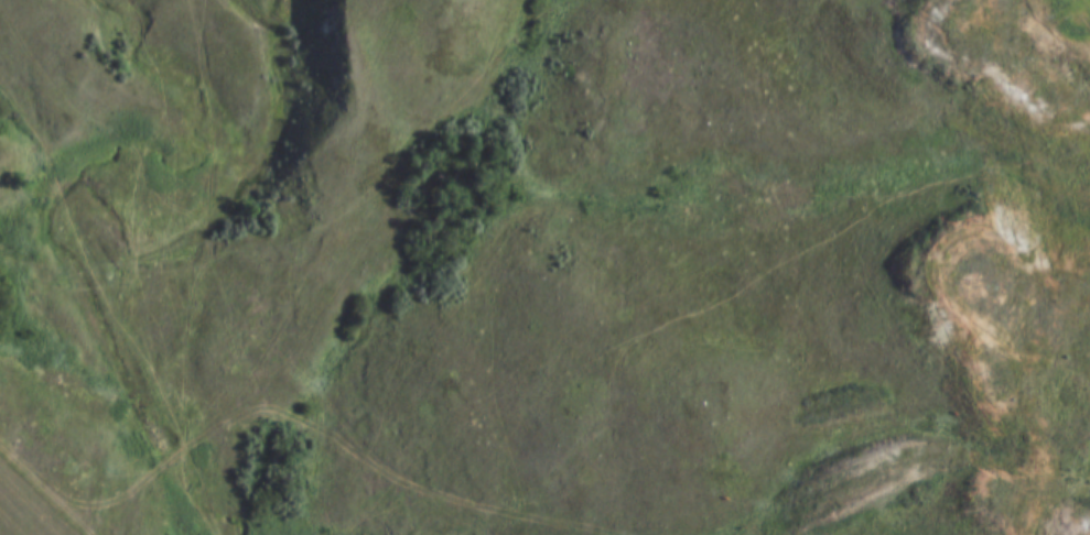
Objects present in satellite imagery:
quarry: (1006, 61)
road: (1042, 287)
quarry: (1012, 363)
road: (865, 435)
road: (337, 449)
road: (22, 512)

